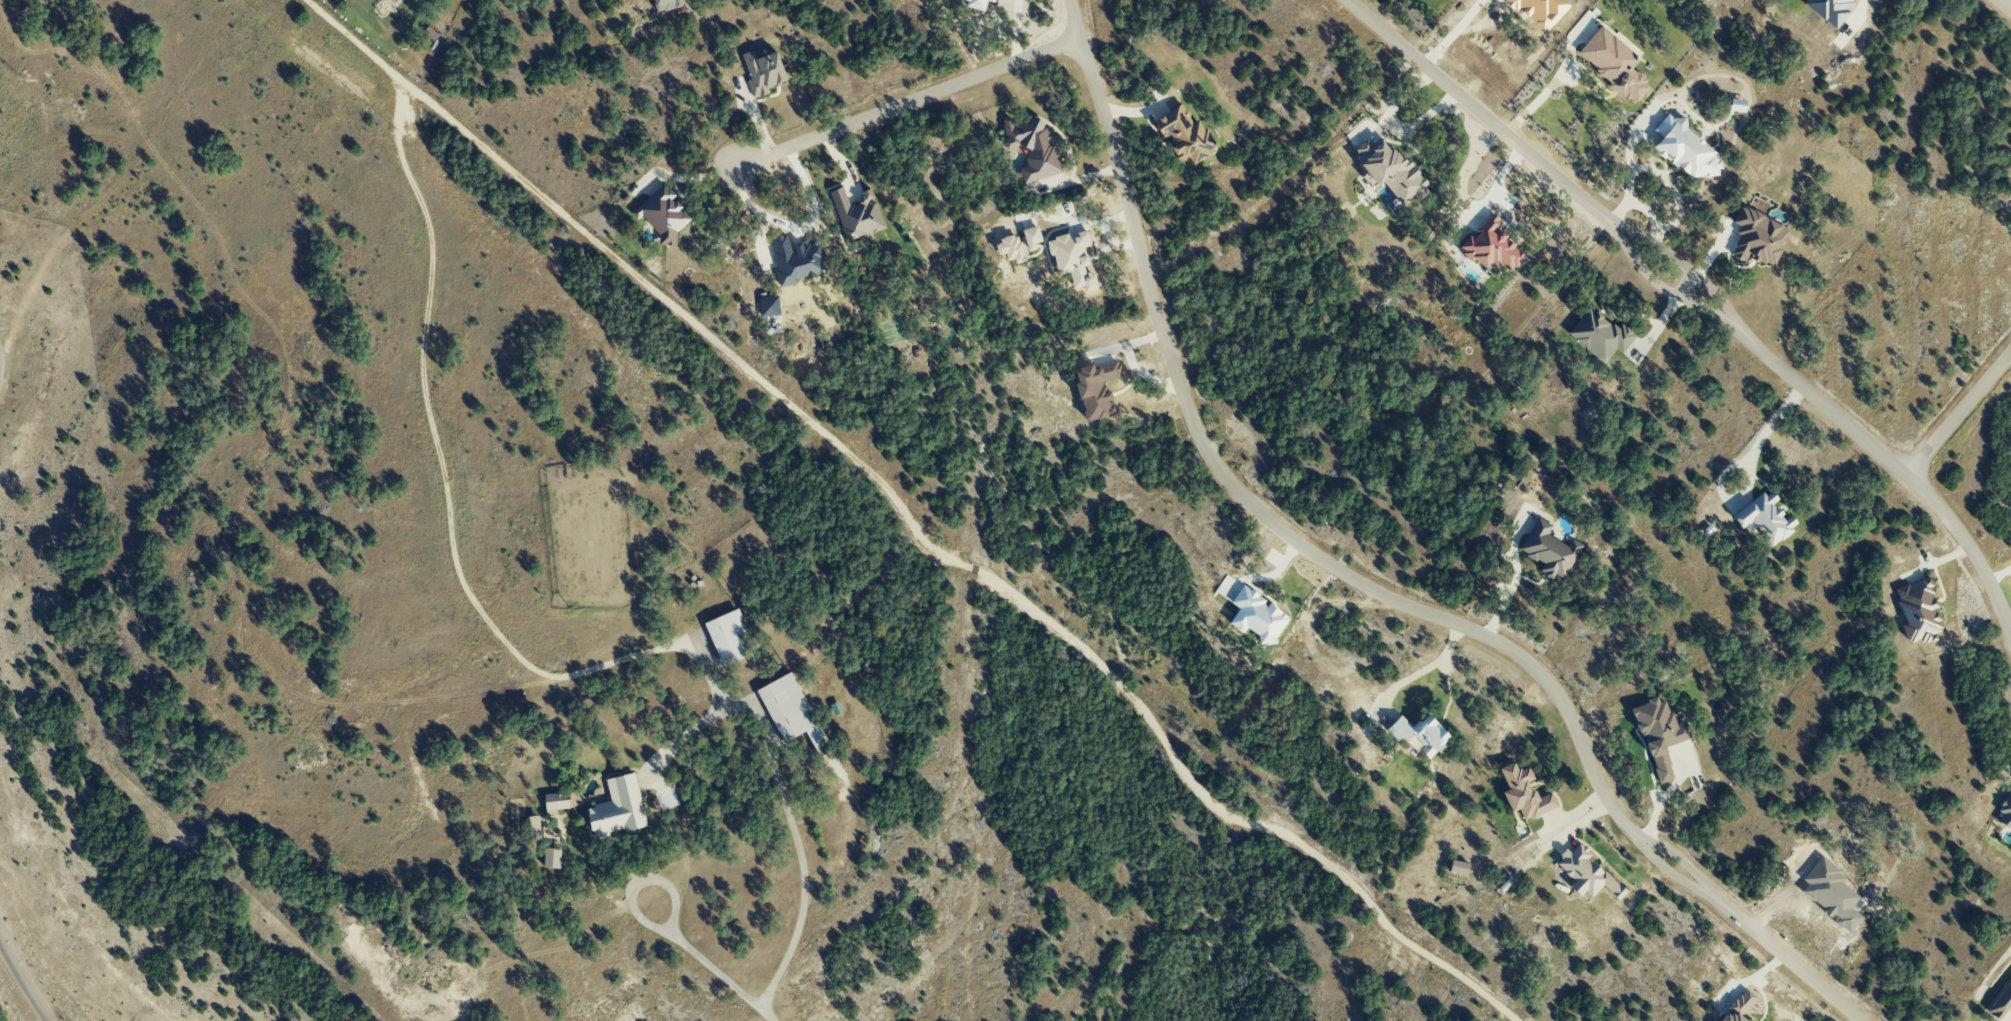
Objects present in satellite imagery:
road: (1861, 3)
building: (665, 4)
building: (976, 4)
road: (2002, 7)
road: (1014, 31)
road: (1455, 33)
building: (1612, 63)
building: (762, 71)
road: (905, 103)
road: (1474, 108)
road: (1394, 122)
building: (1184, 134)
building: (1032, 147)
building: (1685, 150)
building: (1389, 169)
road: (1628, 173)
building: (662, 214)
building: (856, 214)
building: (1756, 237)
building: (1490, 246)
road: (1677, 263)
road: (1657, 286)
road: (1683, 286)
building: (1599, 334)
building: (1095, 389)
road: (1957, 411)
road: (1764, 435)
road: (438, 444)
road: (1894, 468)
road: (1242, 501)
building: (1764, 518)
building: (1548, 549)
road: (952, 560)
road: (1268, 577)
road: (1513, 580)
building: (1917, 611)
building: (738, 634)
road: (1422, 672)
building: (796, 711)
building: (1420, 733)
building: (1658, 735)
road: (1675, 778)
building: (1523, 792)
building: (556, 802)
building: (617, 809)
road: (783, 809)
building: (2005, 814)
road: (1651, 822)
building: (533, 827)
building: (551, 858)
road: (1679, 860)
building: (1458, 867)
building: (1586, 872)
road: (1667, 874)
road: (639, 882)
road: (1785, 959)
road: (721, 975)
road: (20, 984)
building: (2000, 1002)
building: (1739, 1007)

